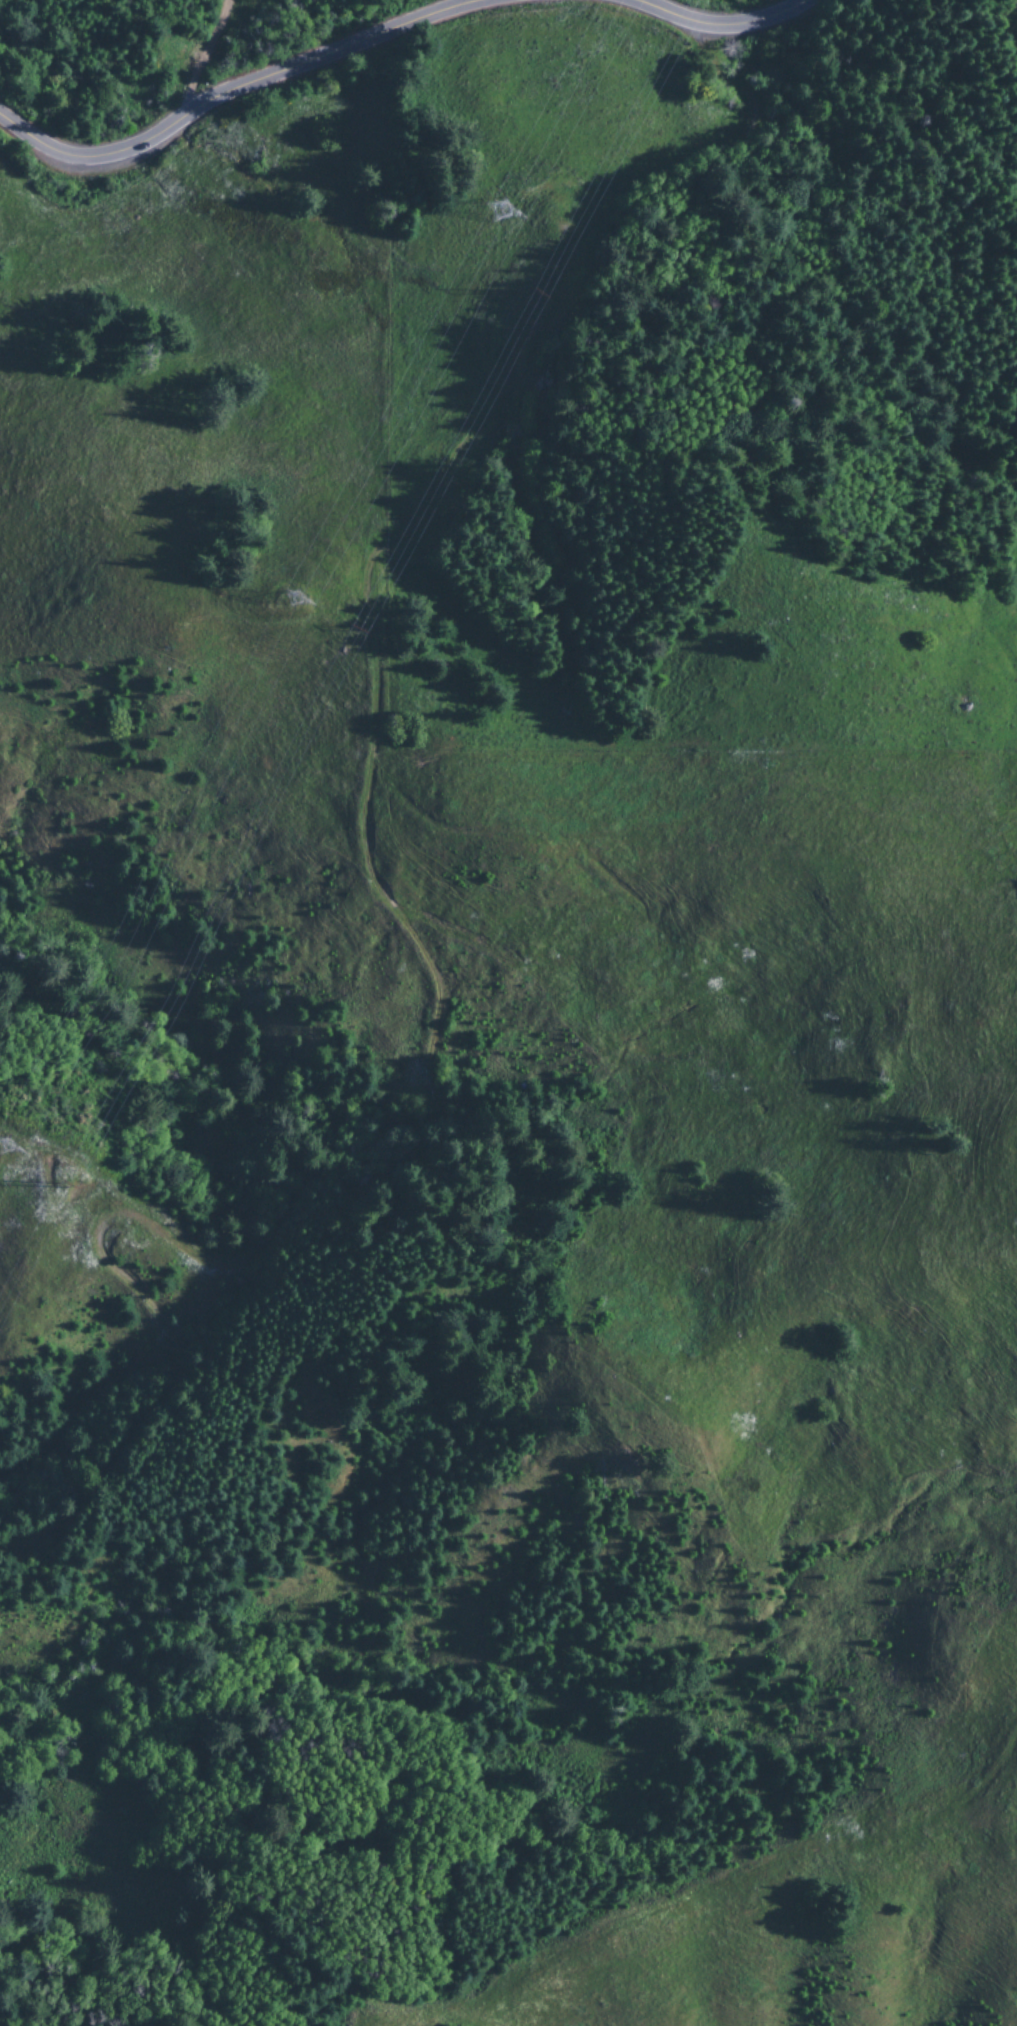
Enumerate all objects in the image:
road: (708, 27)
road: (237, 86)
power tower: (496, 212)
power tower: (288, 601)
power tower: (0, 1150)

